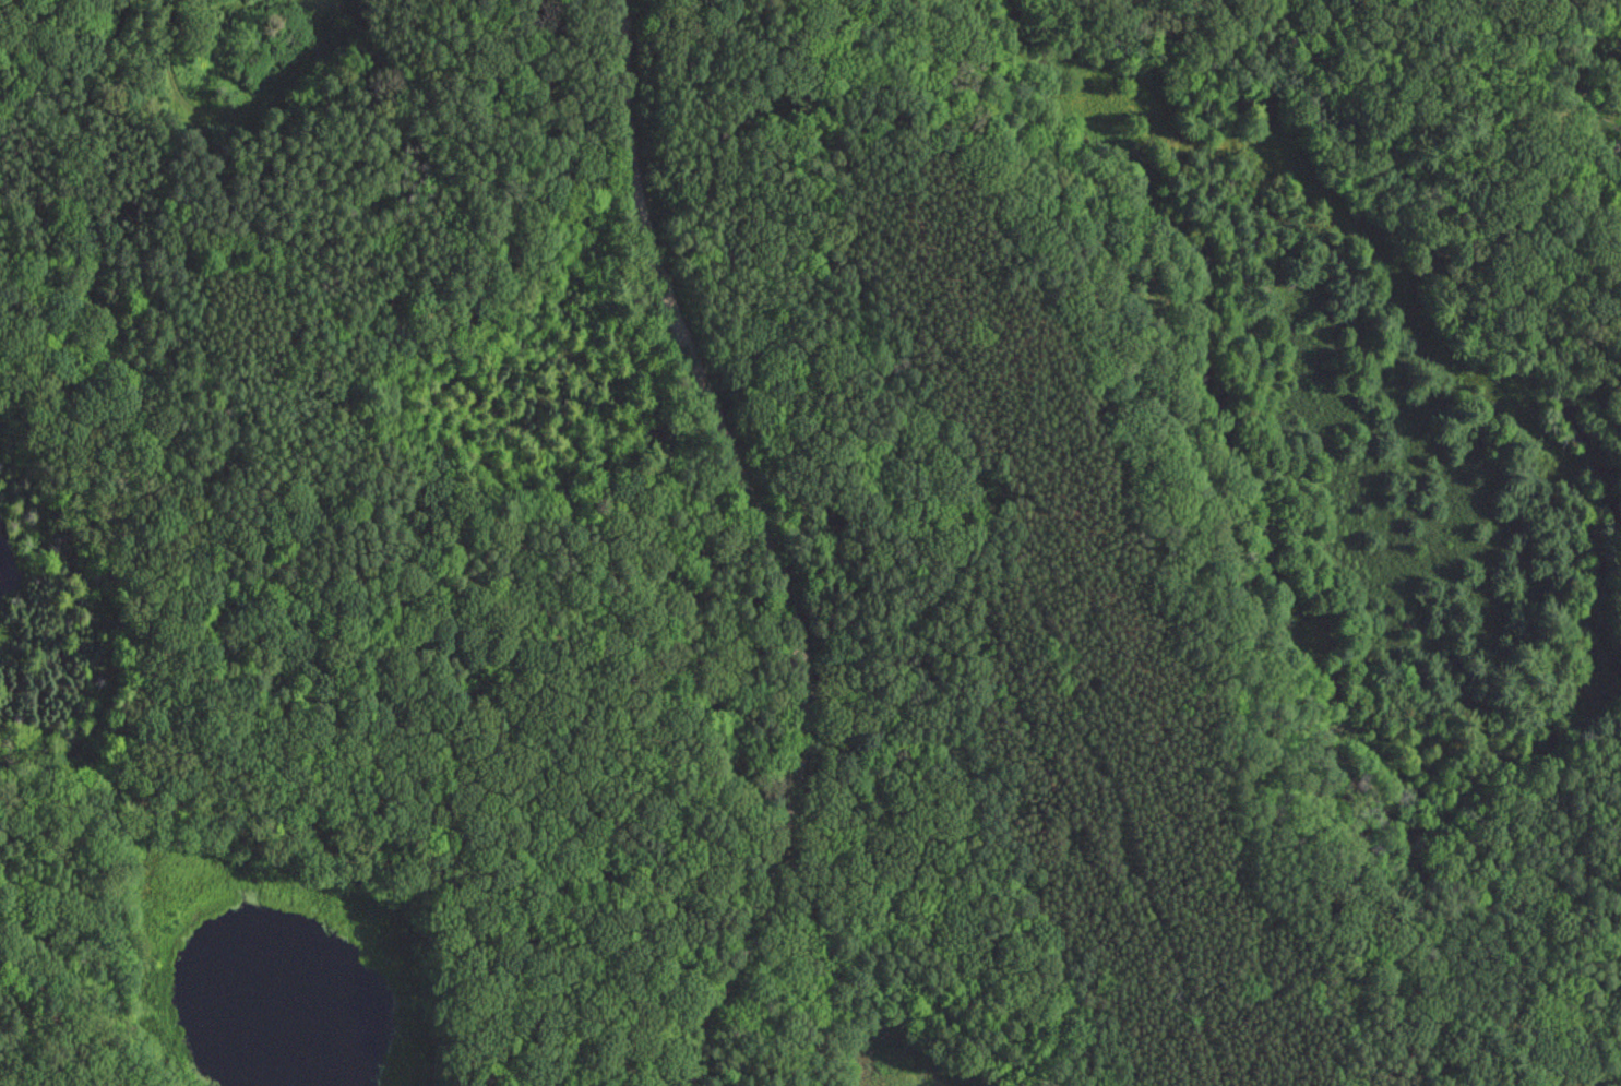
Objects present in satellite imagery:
road: (1366, 170)
road: (766, 544)
road: (1288, 854)

